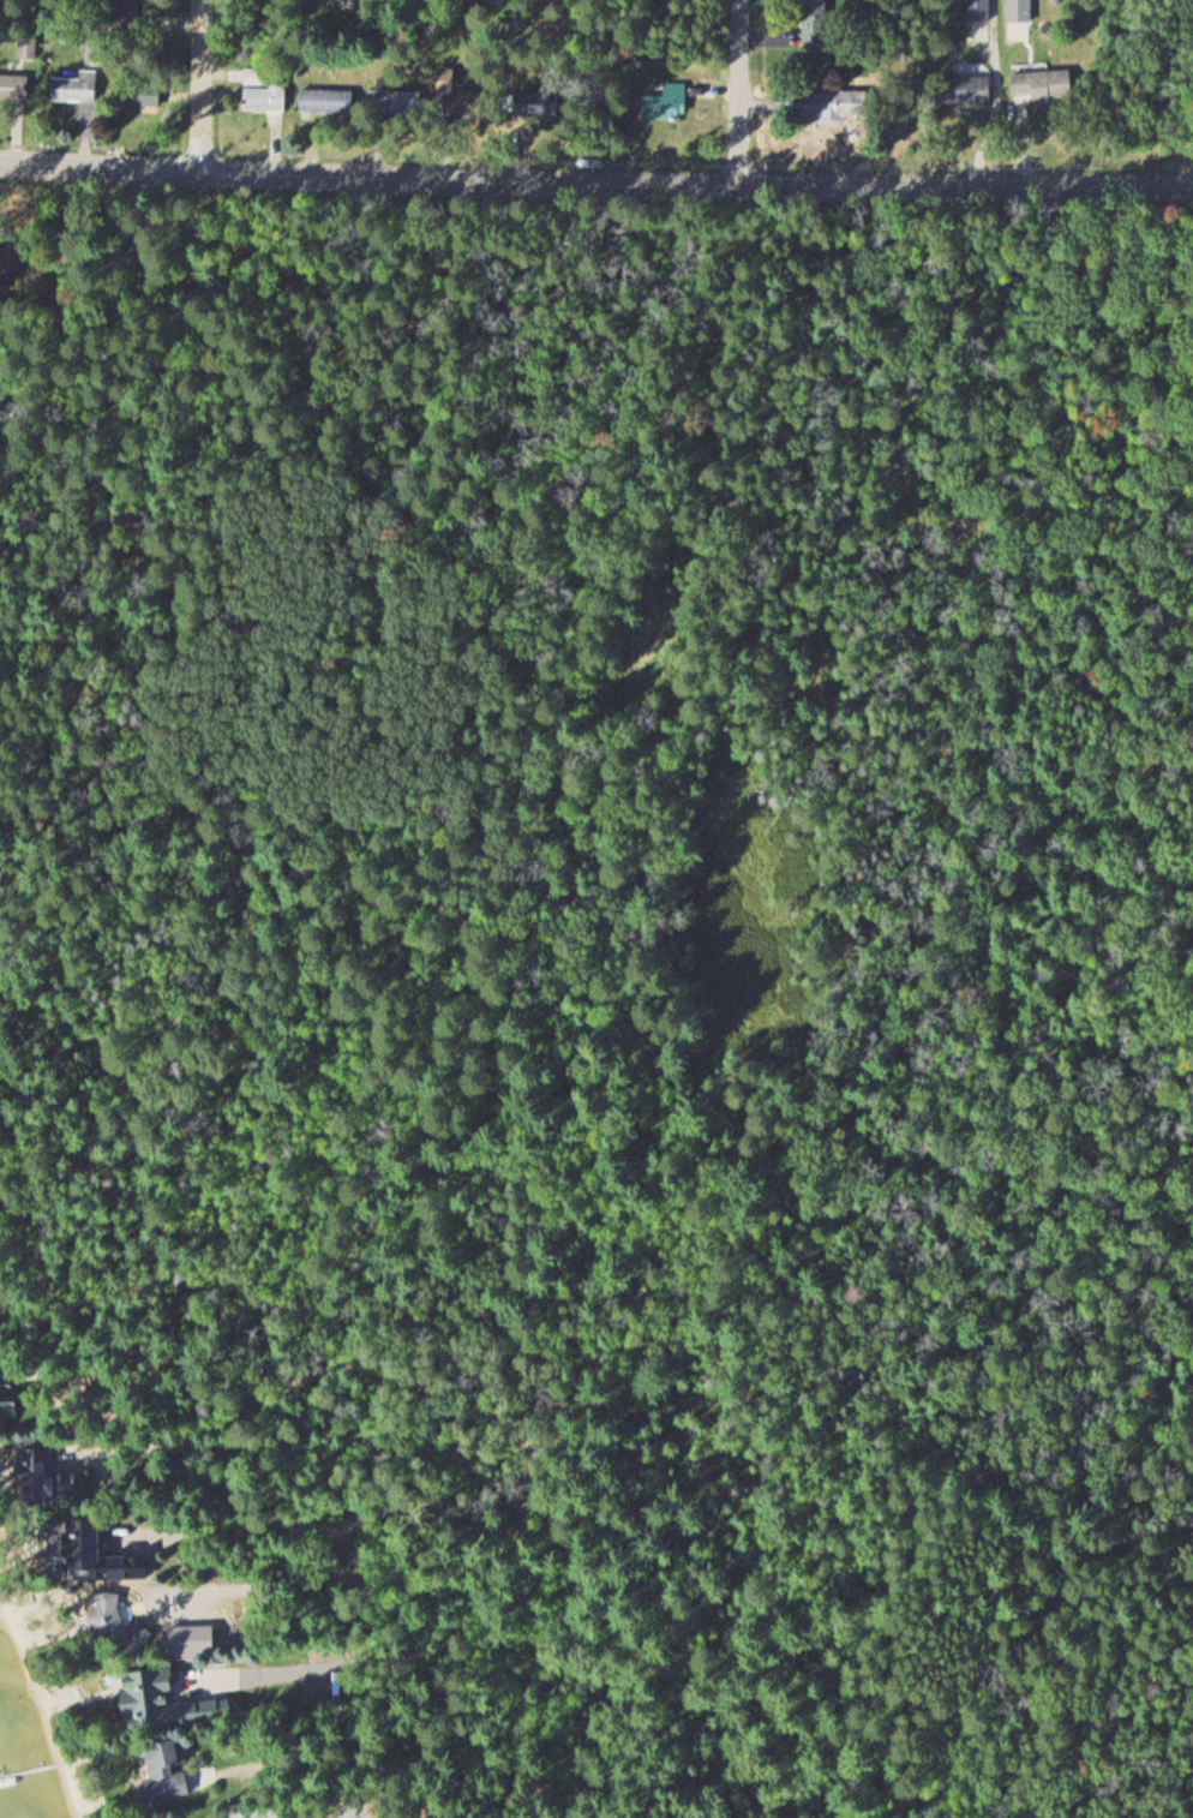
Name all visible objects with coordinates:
building: (122, 7)
building: (981, 10)
building: (815, 24)
road: (512, 38)
building: (29, 48)
road: (196, 85)
building: (1043, 85)
building: (14, 86)
building: (77, 89)
building: (966, 89)
road: (739, 90)
building: (264, 91)
building: (139, 97)
building: (392, 101)
building: (328, 102)
building: (669, 103)
building: (829, 104)
road: (595, 180)
road: (66, 477)
road: (28, 1166)
building: (6, 1399)
building: (49, 1477)
building: (97, 1554)
road: (206, 1566)
building: (119, 1626)
building: (168, 1702)
road: (372, 1720)
building: (167, 1769)

